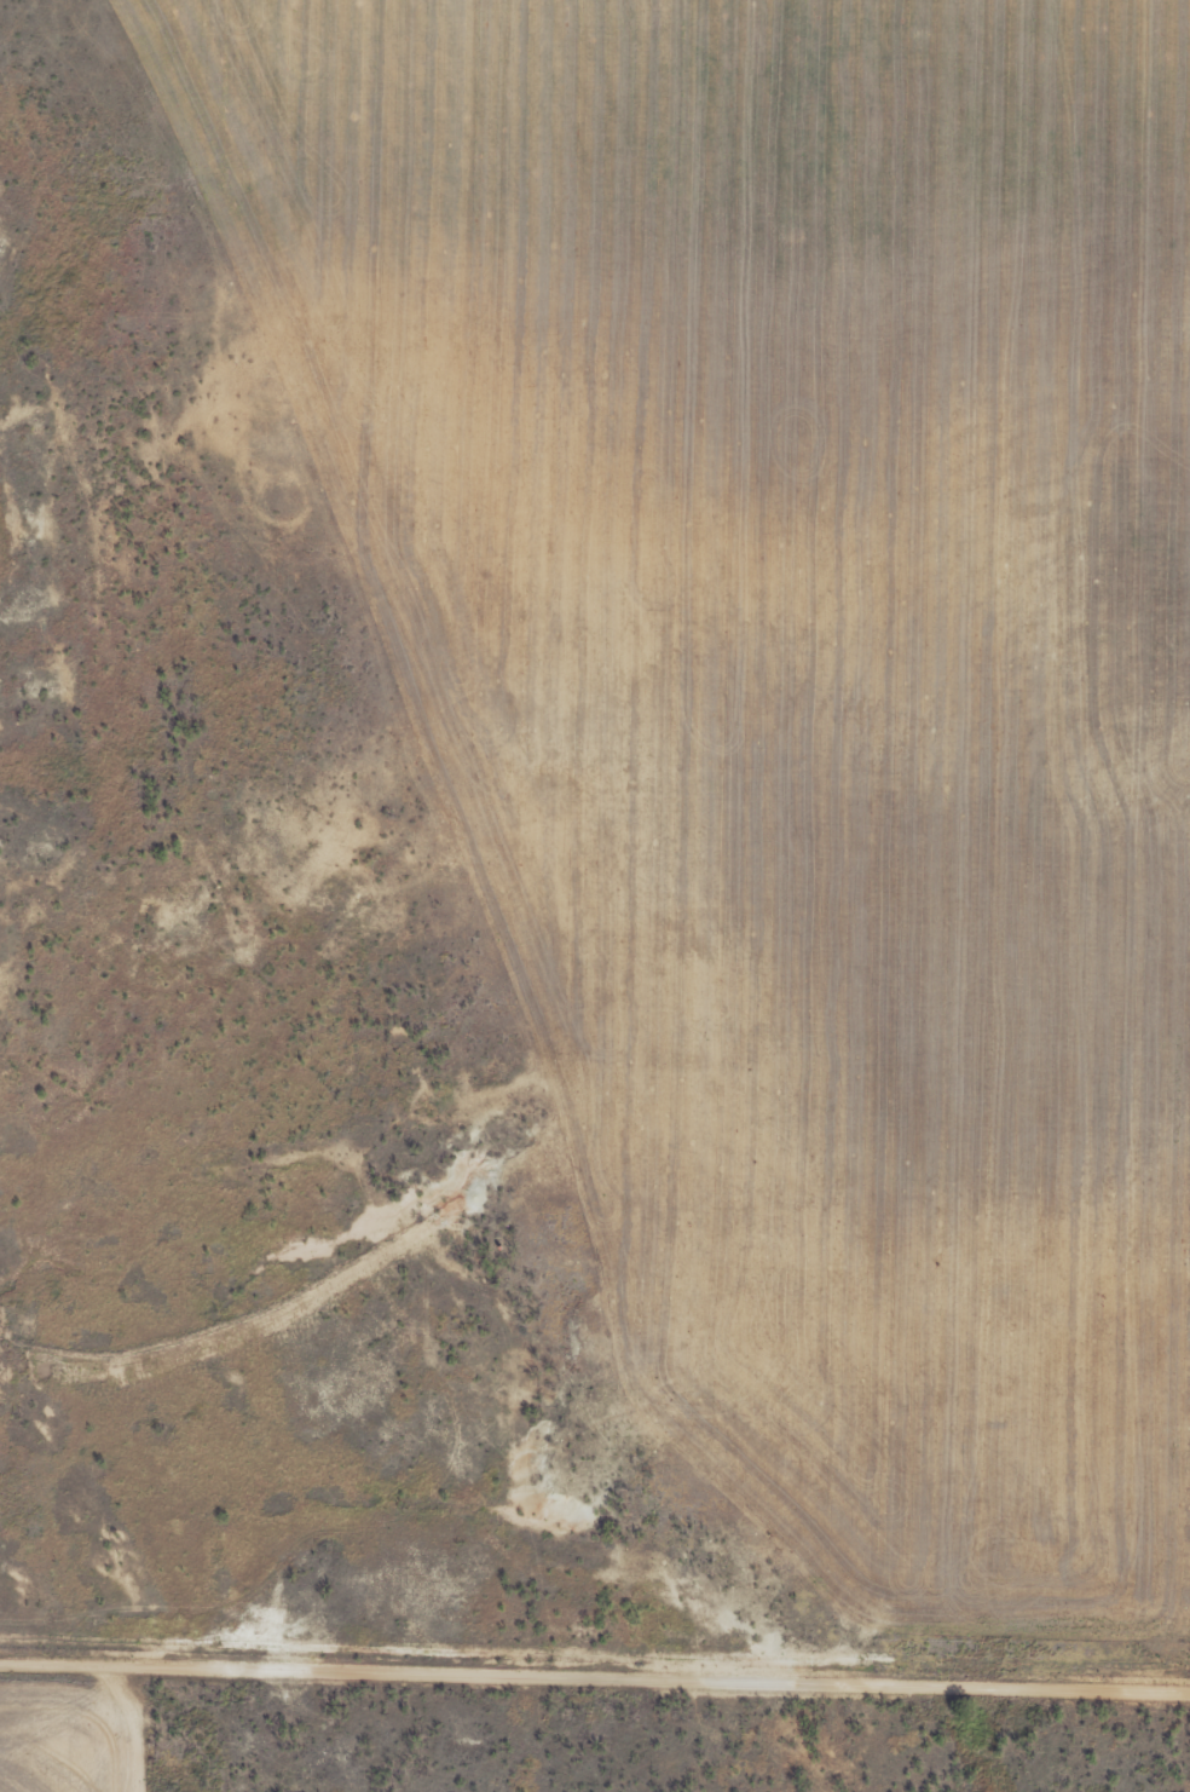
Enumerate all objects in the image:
road: (594, 1673)

